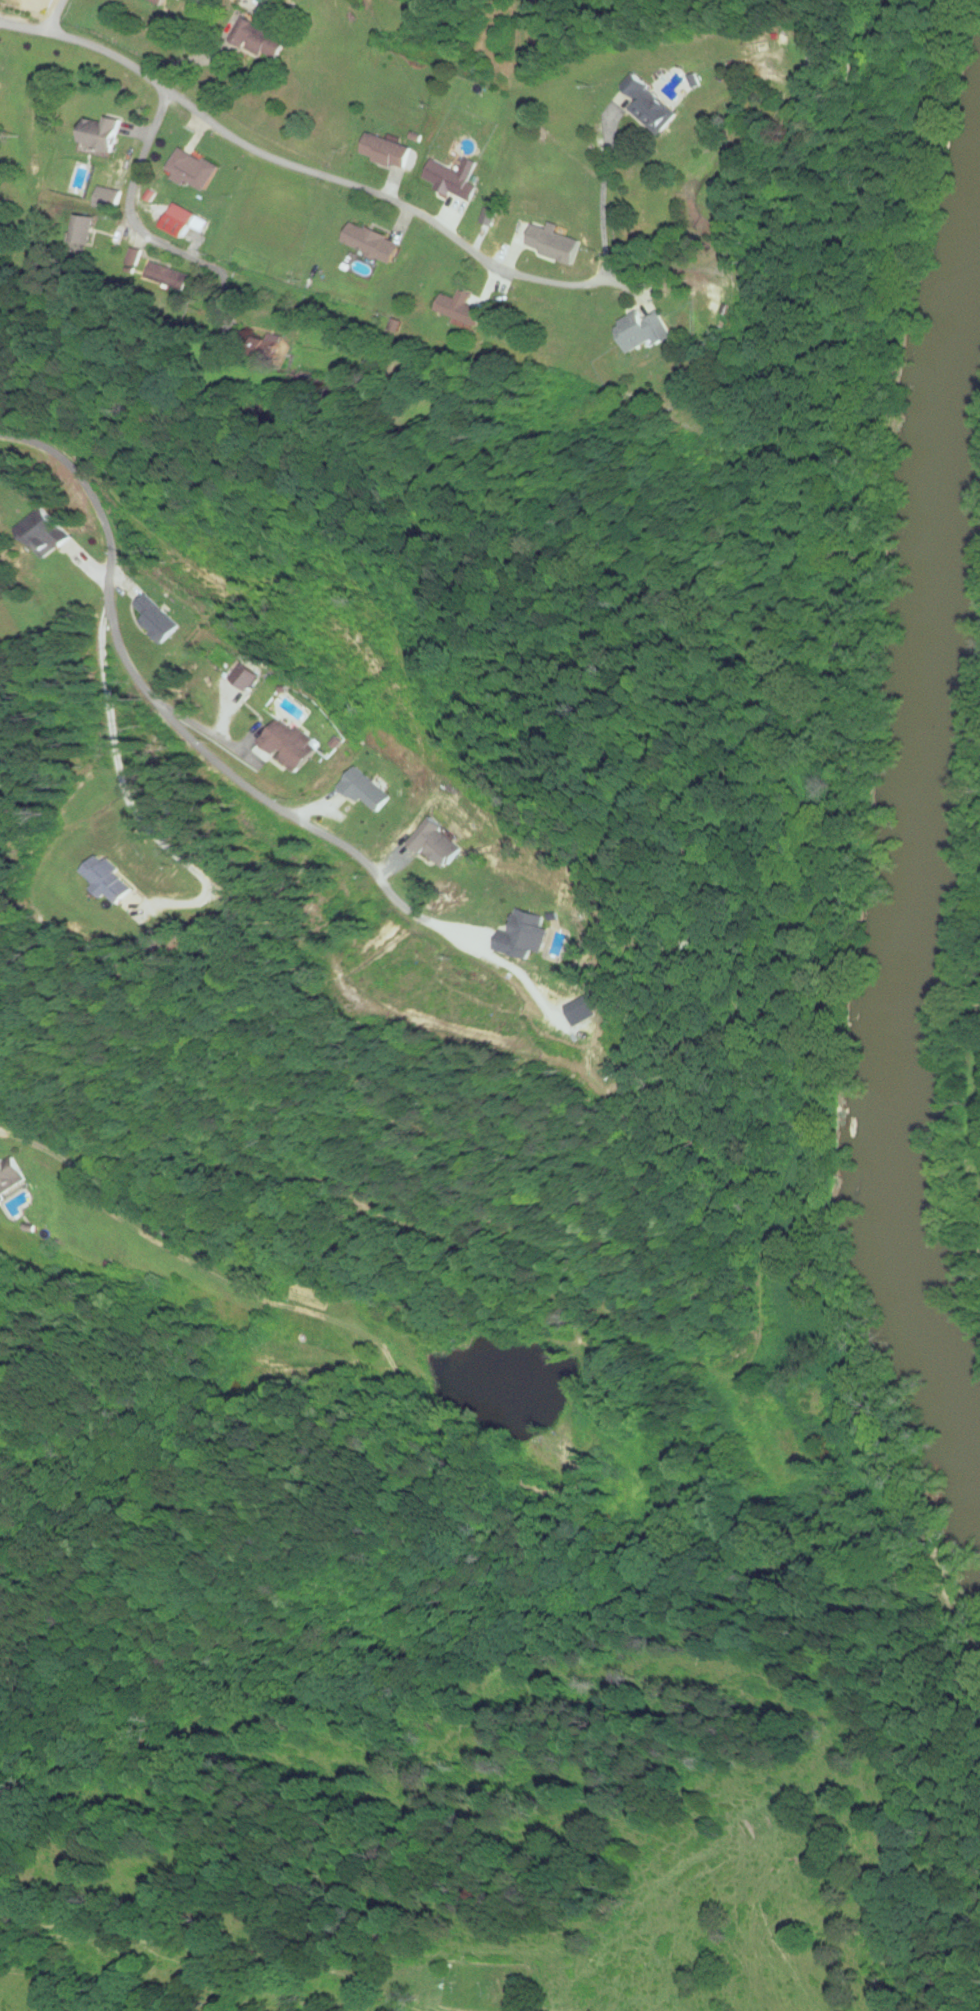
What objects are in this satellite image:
road: (56, 16)
road: (24, 25)
building: (260, 39)
building: (801, 55)
building: (653, 106)
building: (101, 136)
building: (387, 152)
building: (194, 170)
building: (454, 178)
road: (393, 201)
road: (135, 227)
building: (77, 230)
building: (372, 242)
building: (461, 309)
building: (643, 331)
building: (268, 351)
building: (48, 535)
building: (286, 750)
river: (920, 824)
building: (13, 1189)
park: (488, 1987)

